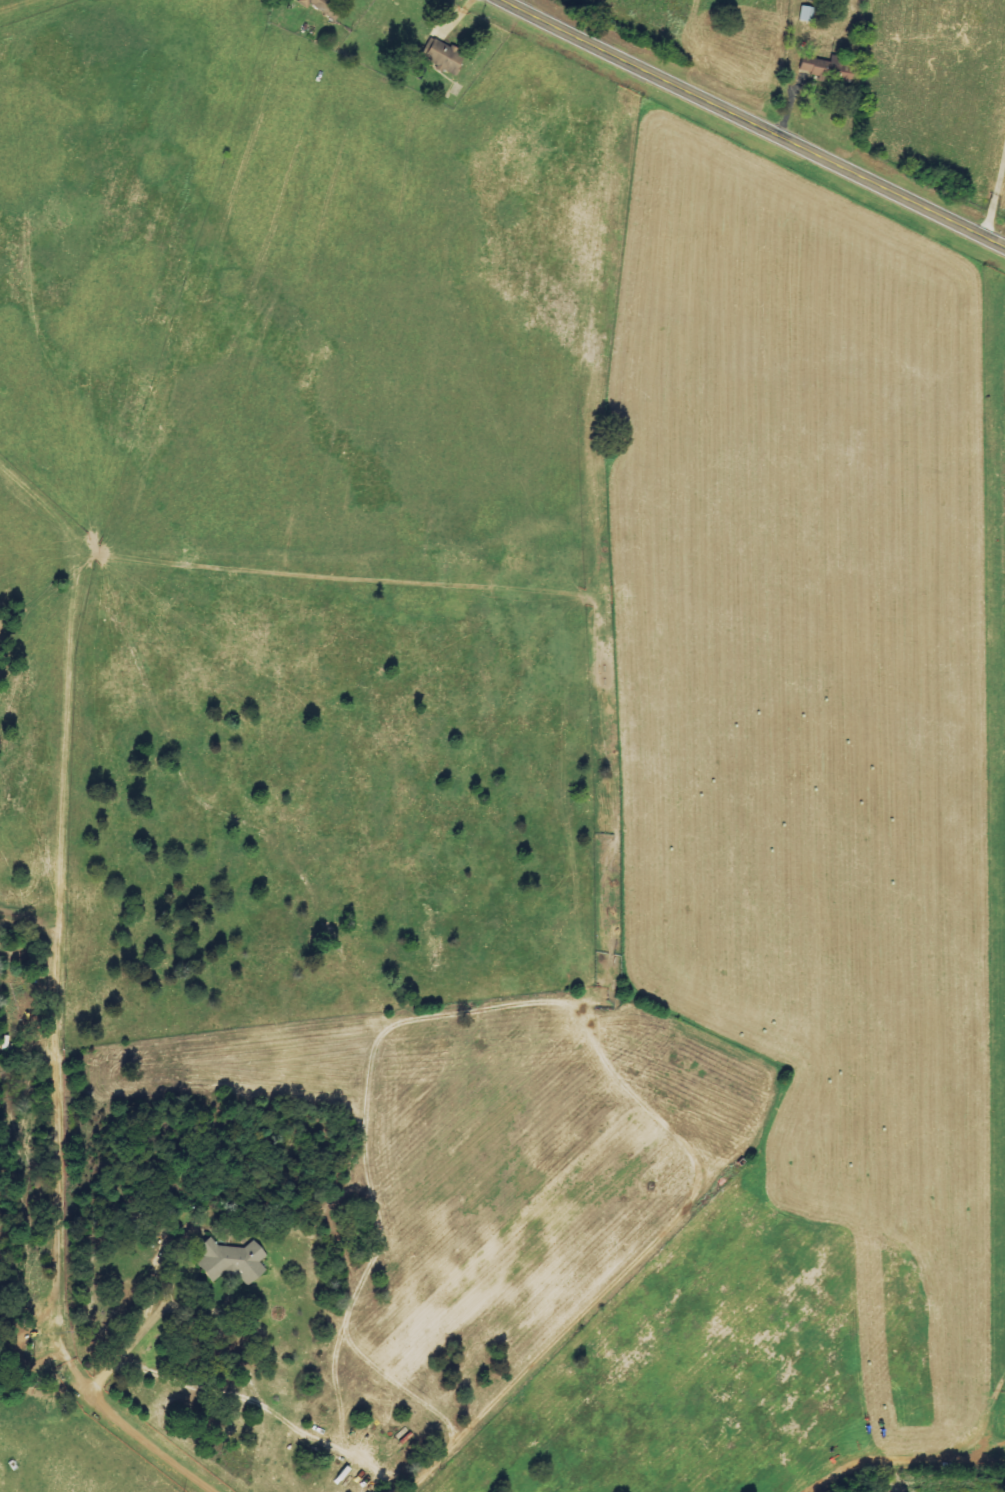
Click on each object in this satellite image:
building: (322, 5)
building: (806, 14)
building: (443, 56)
building: (818, 67)
road: (760, 117)
building: (232, 1260)

